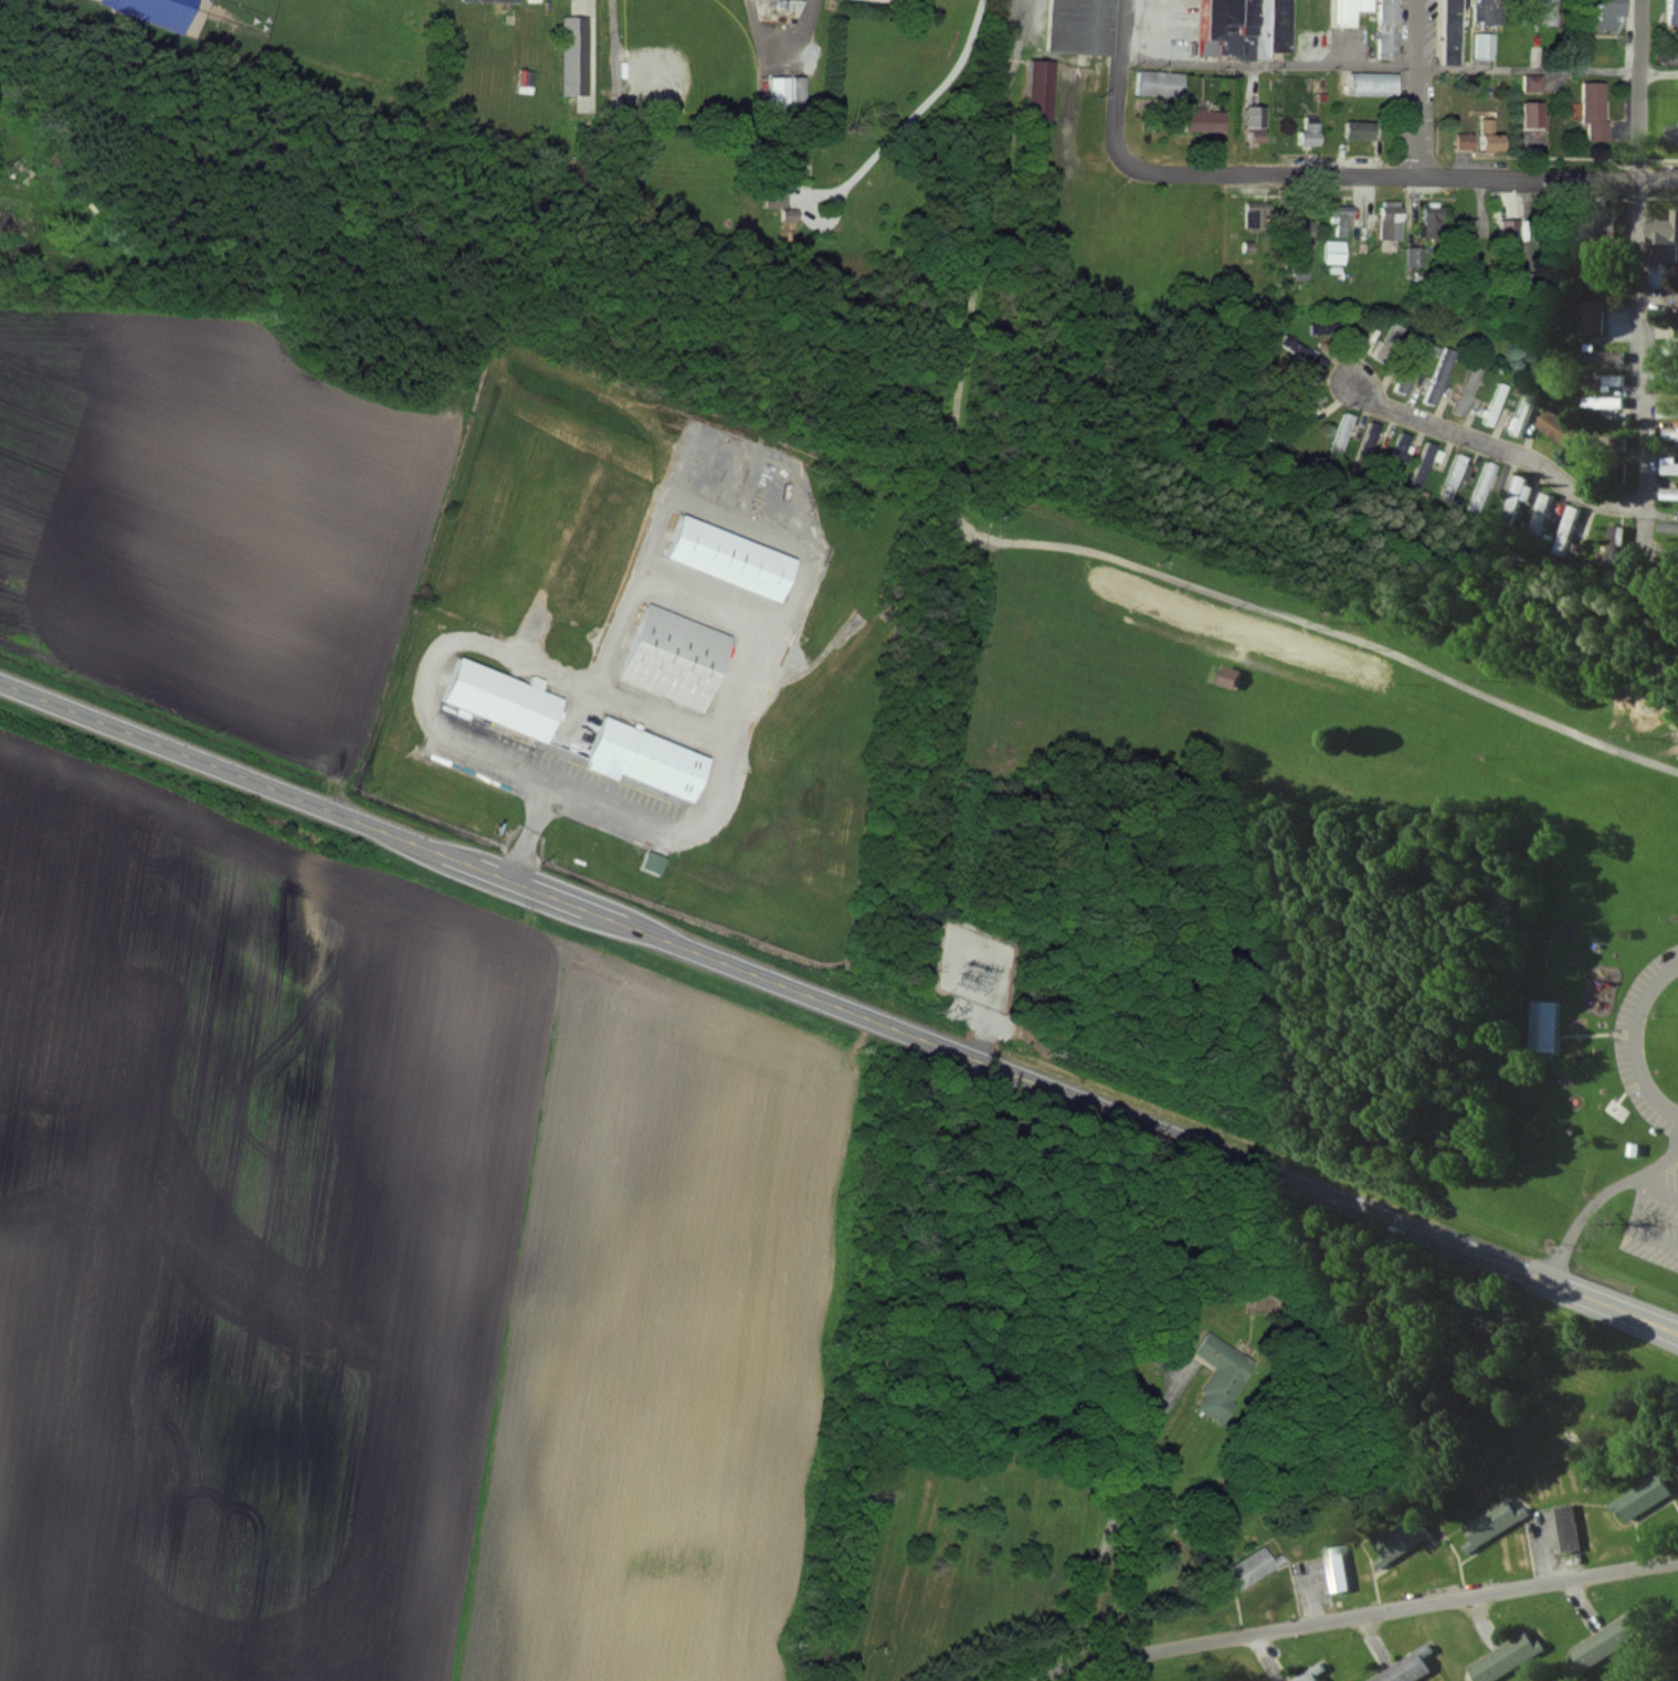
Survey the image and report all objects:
building: (371, 2)
building: (1350, 11)
building: (1672, 11)
building: (1545, 12)
building: (1613, 13)
building: (1081, 27)
building: (1249, 27)
building: (1391, 29)
building: (1486, 29)
building: (1454, 32)
road: (1381, 68)
road: (1659, 72)
building: (1534, 83)
road: (1118, 84)
building: (1160, 84)
building: (1374, 84)
road: (1640, 87)
road: (1412, 88)
building: (1041, 91)
building: (1596, 110)
road: (911, 116)
building: (1205, 120)
building: (1257, 127)
building: (1310, 131)
building: (1494, 137)
building: (1466, 140)
road: (1403, 177)
building: (1258, 218)
building: (1341, 220)
building: (1391, 221)
building: (1585, 222)
building: (1299, 223)
building: (1434, 226)
building: (1467, 233)
building: (1667, 249)
building: (1596, 317)
building: (1389, 342)
building: (1593, 352)
building: (1440, 381)
building: (1608, 381)
building: (1470, 388)
building: (1606, 403)
building: (1496, 404)
building: (1526, 412)
building: (1670, 413)
road: (1645, 435)
building: (1671, 436)
building: (1343, 438)
building: (1372, 445)
road: (1501, 448)
building: (1404, 453)
building: (1427, 465)
building: (1670, 468)
building: (1458, 477)
building: (1485, 488)
building: (1518, 495)
building: (1539, 515)
building: (1565, 528)
building: (1612, 536)
building: (734, 559)
road: (1353, 642)
building: (678, 658)
building: (1228, 678)
building: (507, 701)
building: (648, 761)
road: (530, 837)
park: (1298, 884)
road: (838, 1007)
road: (1630, 1044)
road: (1597, 1199)
road: (1676, 1245)
building: (1647, 1498)
road: (1122, 1510)
building: (1494, 1525)
building: (1405, 1540)
building: (1248, 1569)
building: (1340, 1577)
road: (1340, 1618)
building: (1509, 1658)
building: (1410, 1669)

